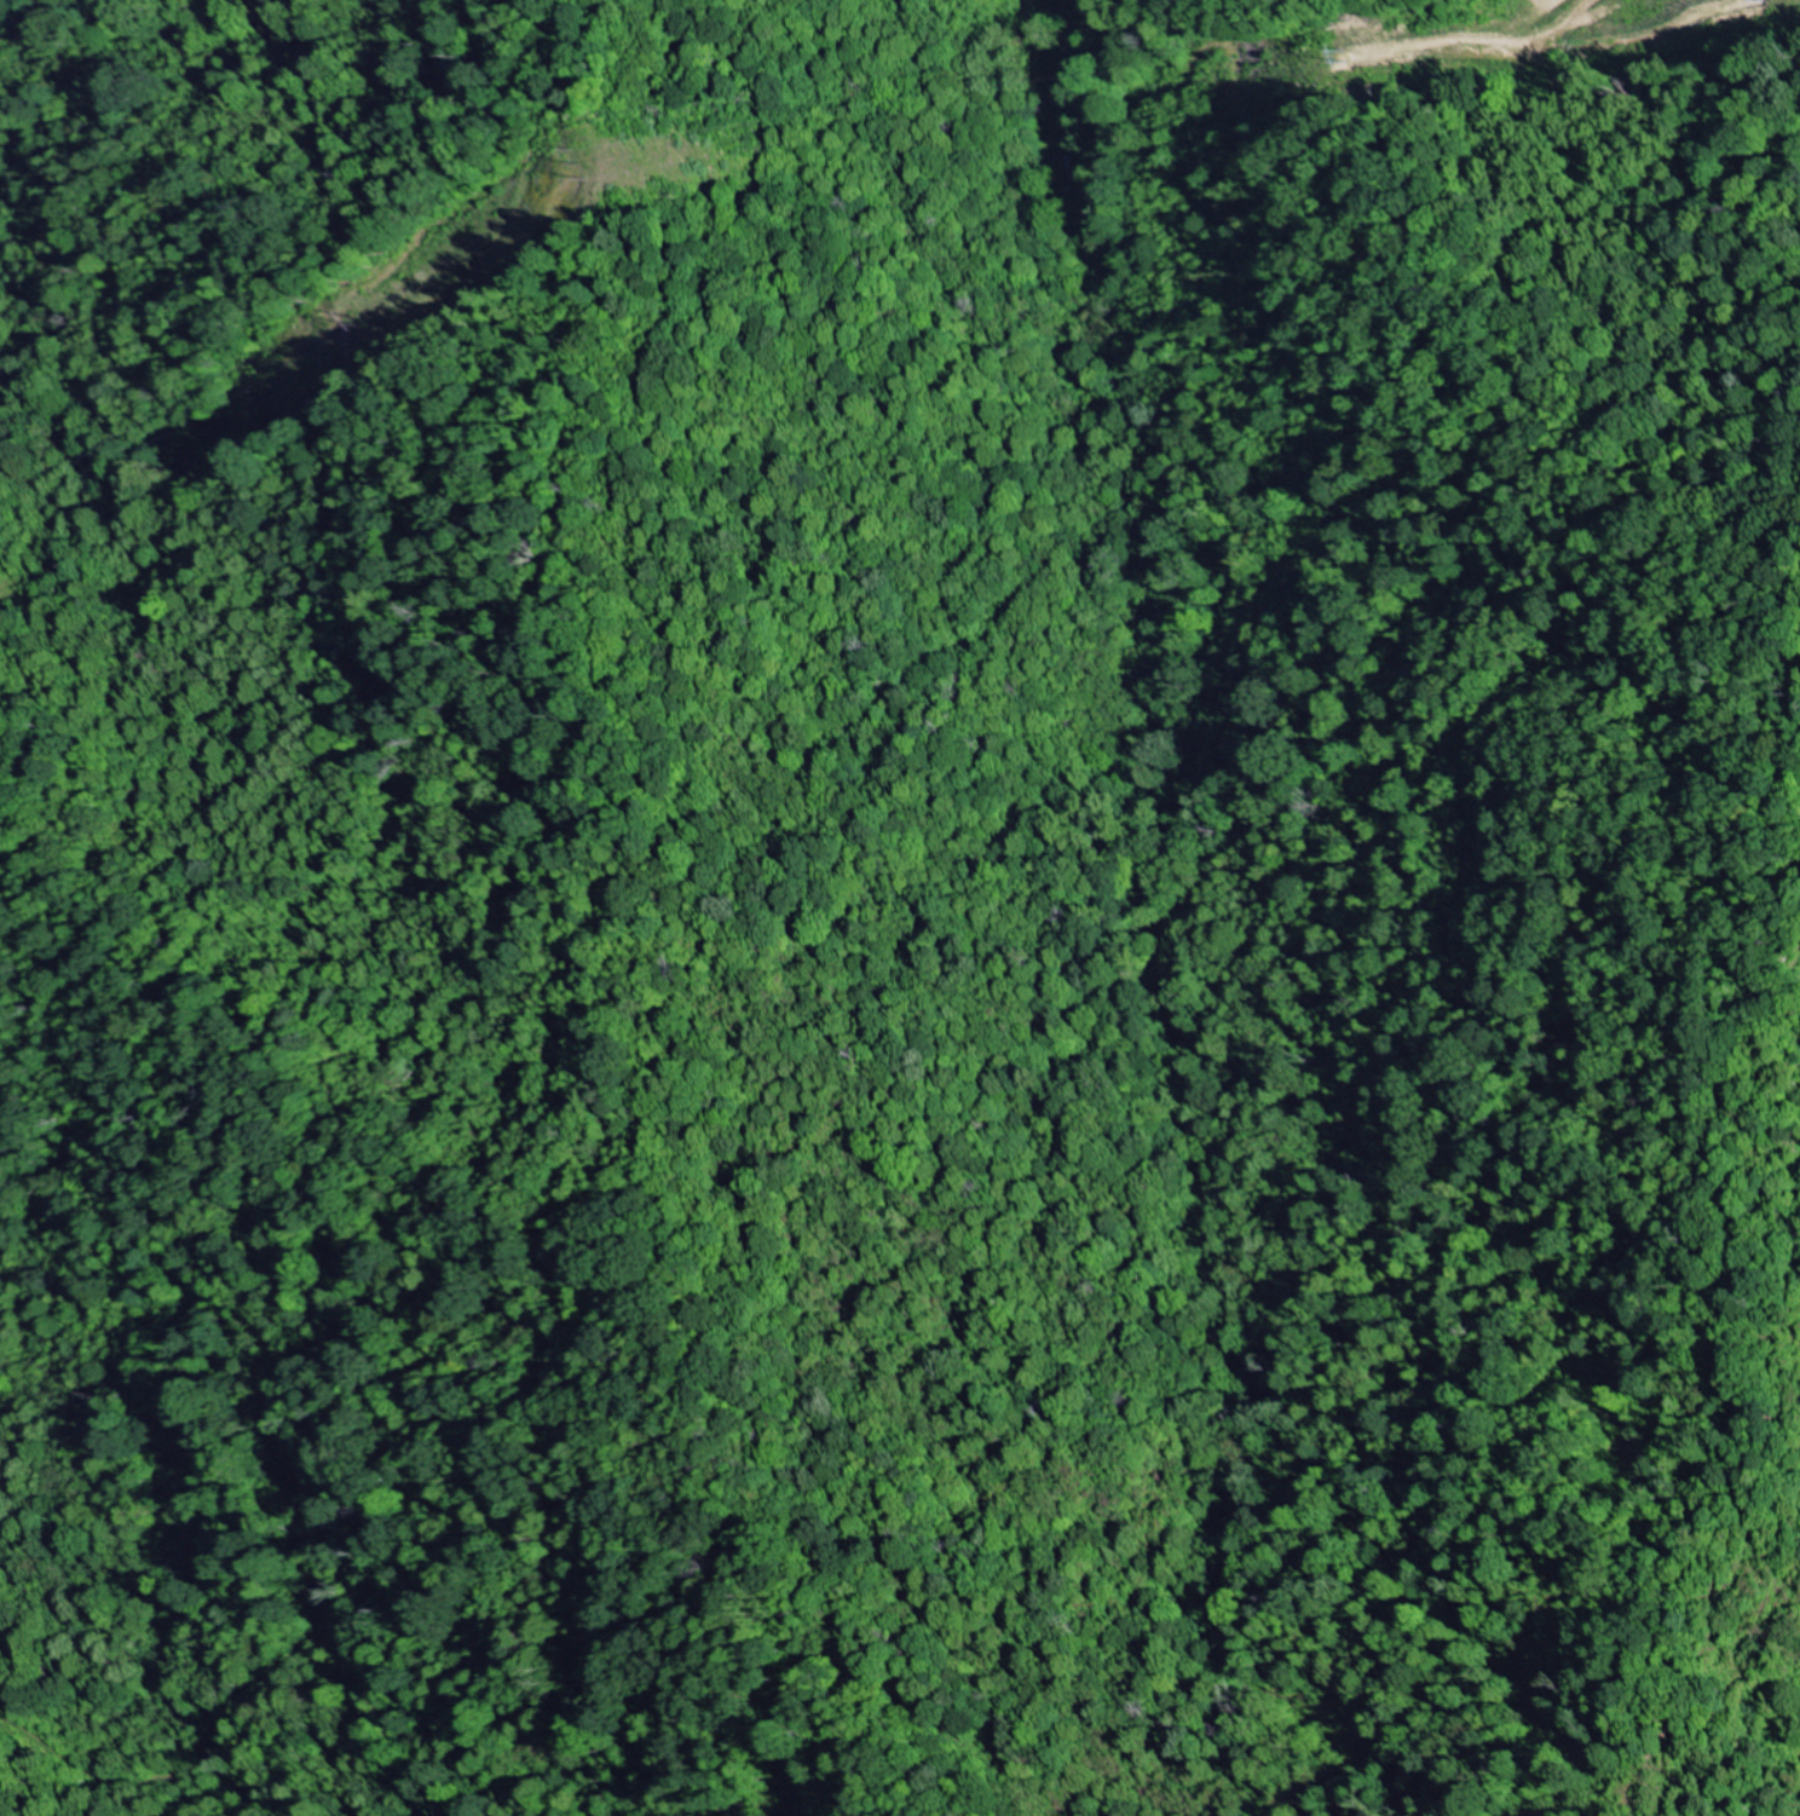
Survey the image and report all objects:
power tower: (581, 174)

